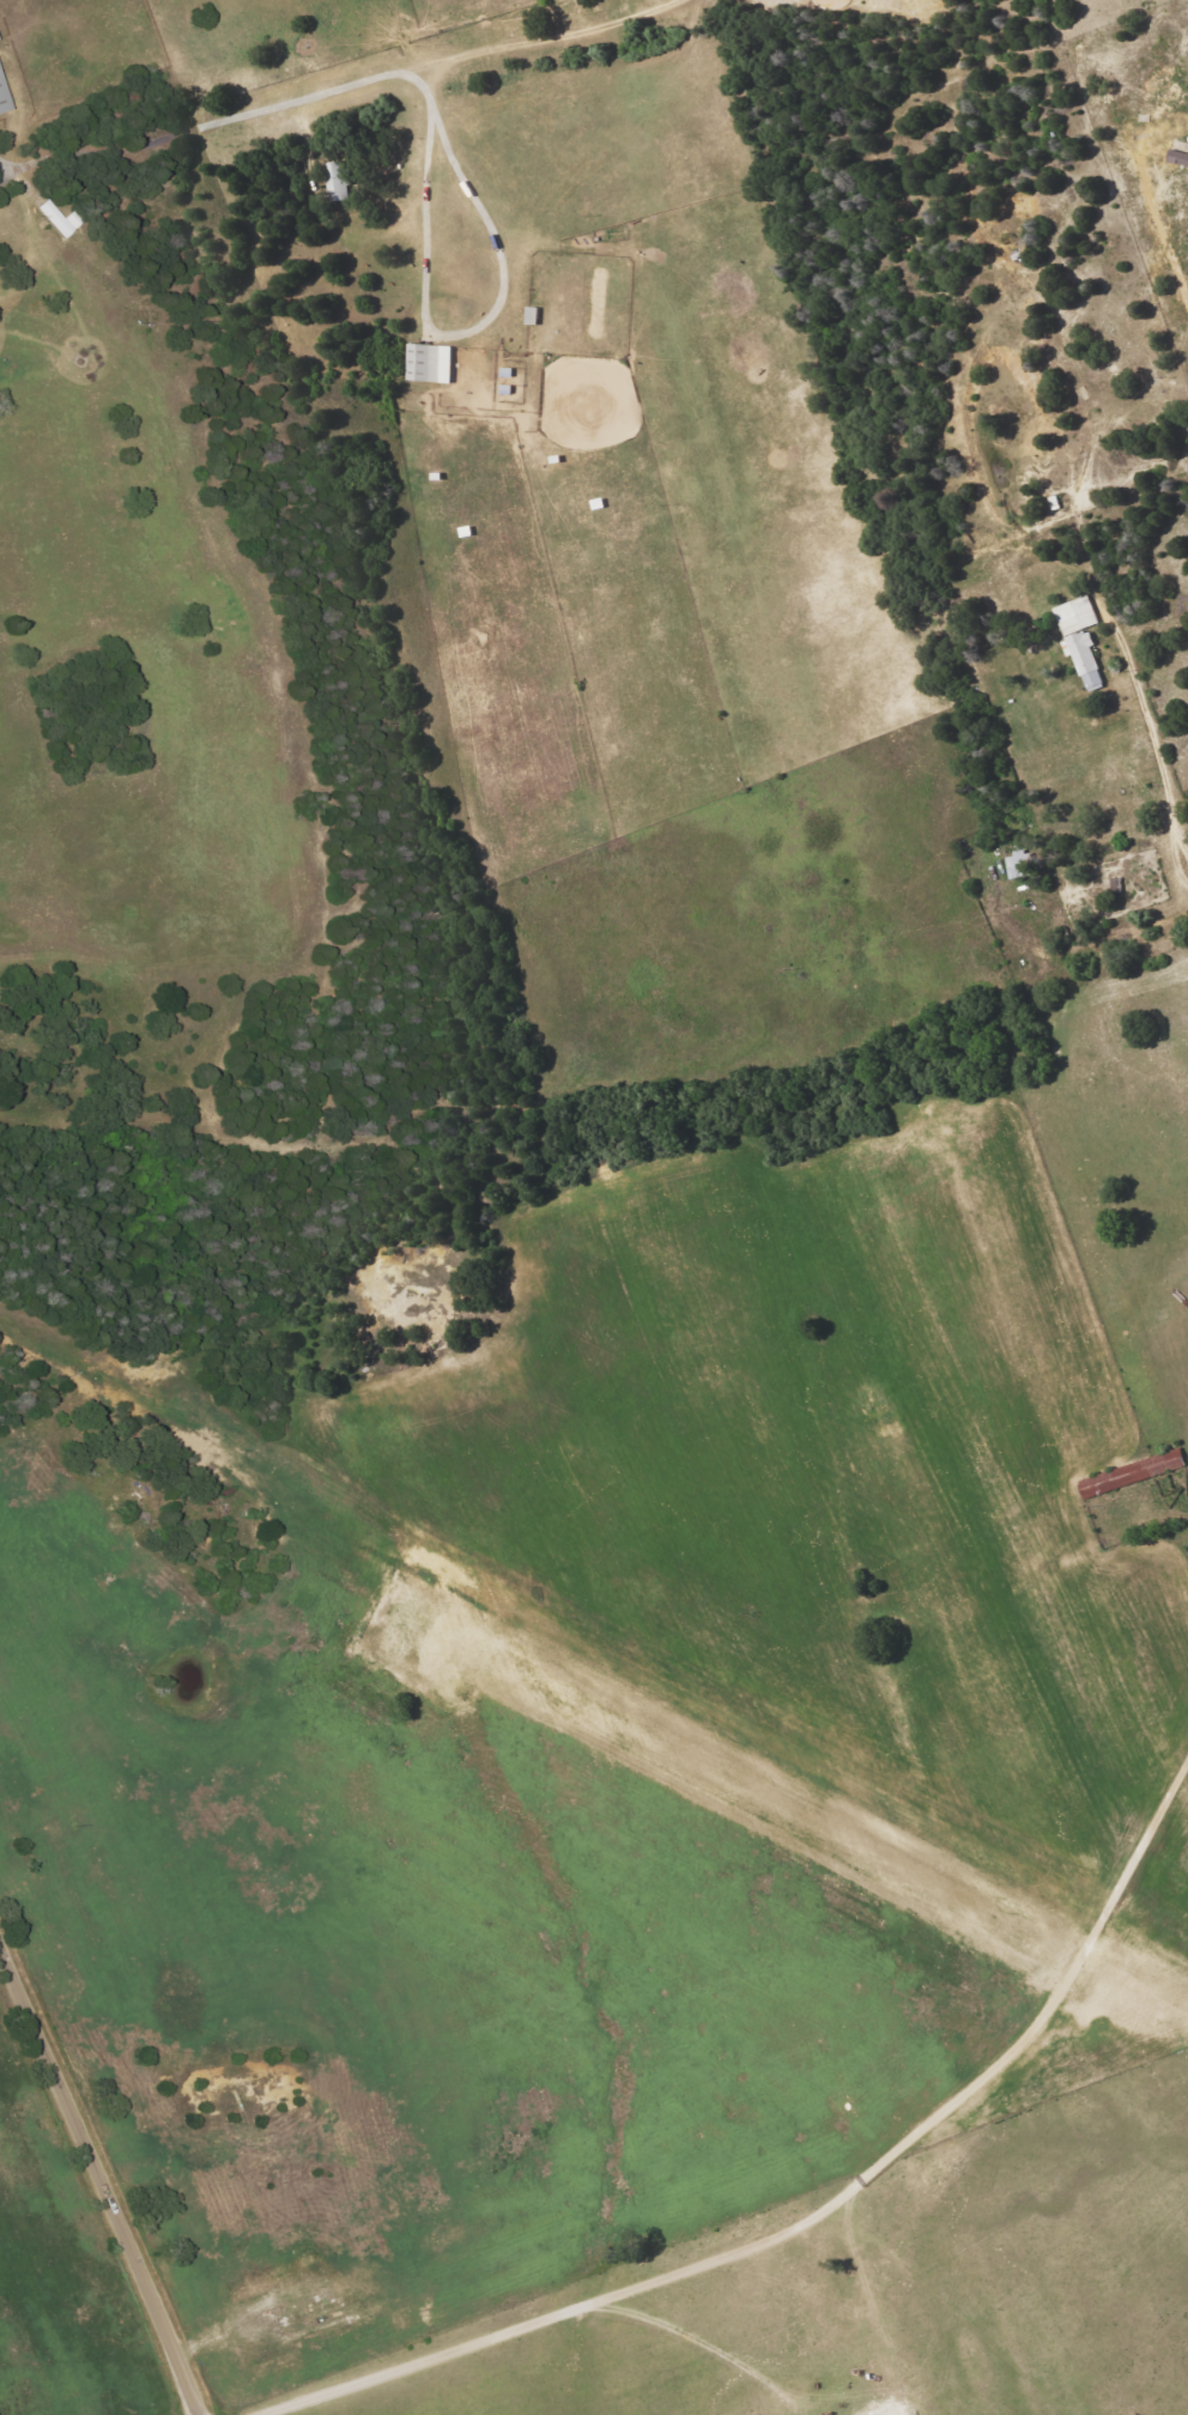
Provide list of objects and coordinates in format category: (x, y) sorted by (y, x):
road: (344, 92)
road: (438, 169)
building: (335, 181)
building: (428, 363)
building: (1079, 637)
road: (1157, 752)
building: (1012, 866)
road: (243, 1423)
building: (1128, 1473)
road: (645, 1864)
road: (99, 2181)

